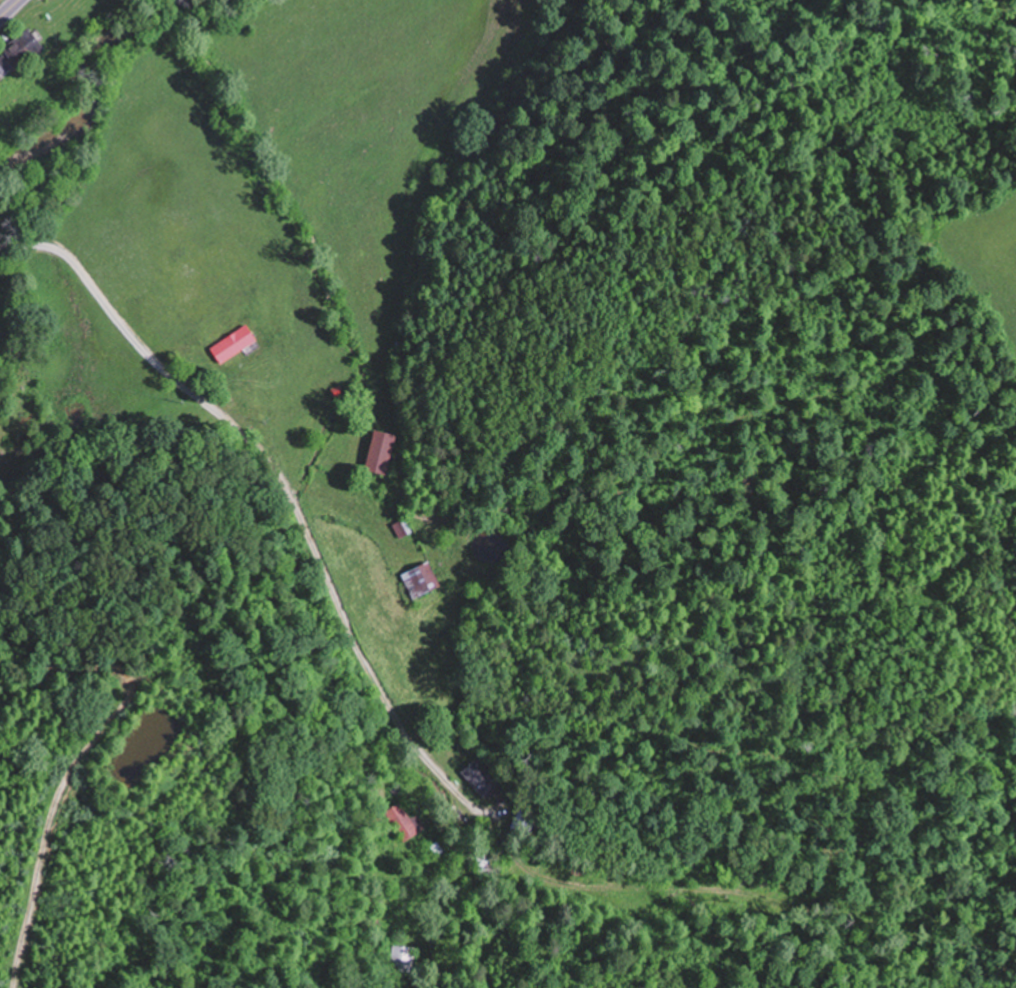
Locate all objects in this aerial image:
road: (9, 8)
building: (17, 57)
building: (235, 343)
building: (382, 451)
road: (282, 481)
building: (402, 528)
building: (422, 580)
building: (481, 777)
building: (519, 820)
building: (412, 822)
building: (436, 849)
building: (396, 957)

